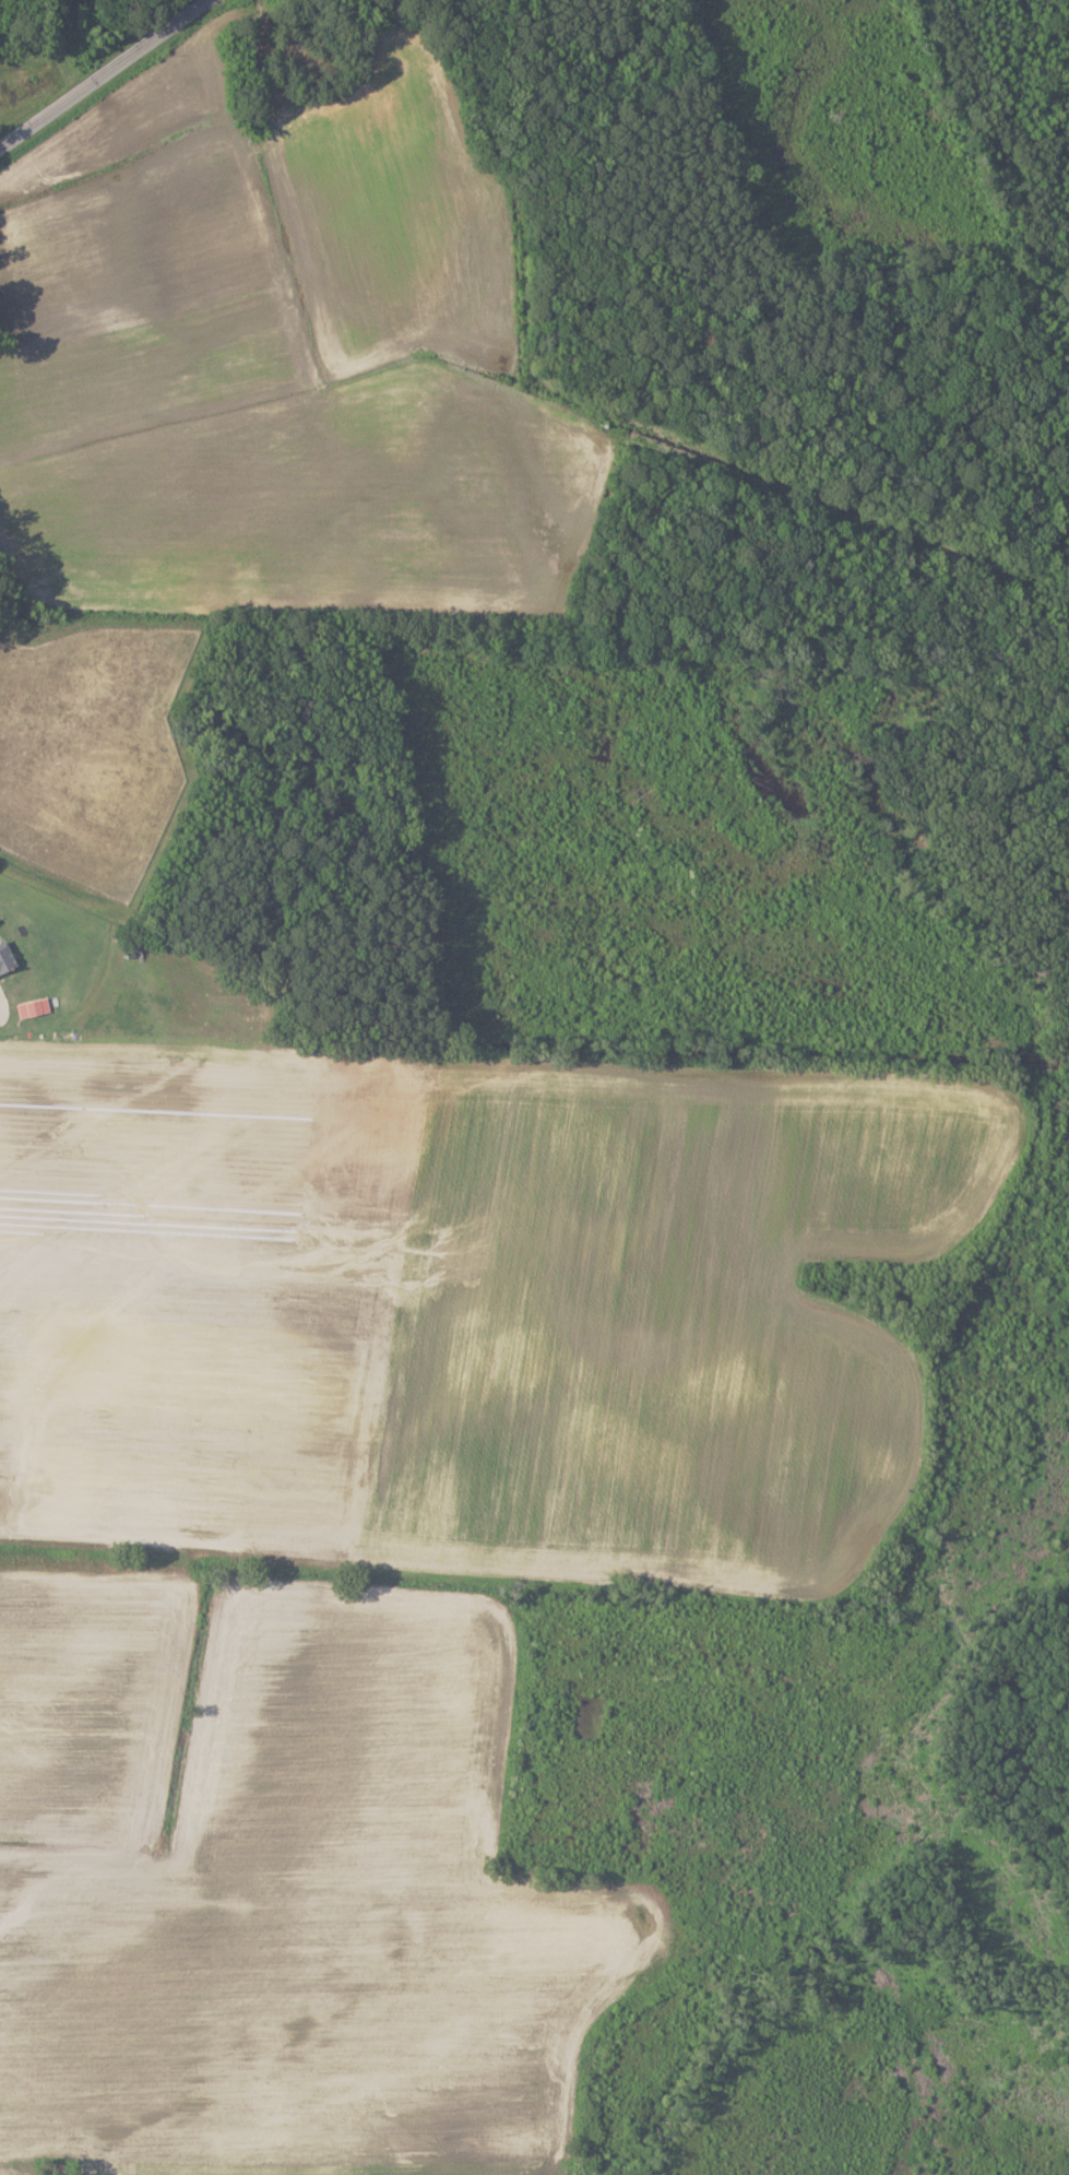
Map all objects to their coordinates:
road: (106, 75)
building: (7, 958)
building: (35, 1007)

